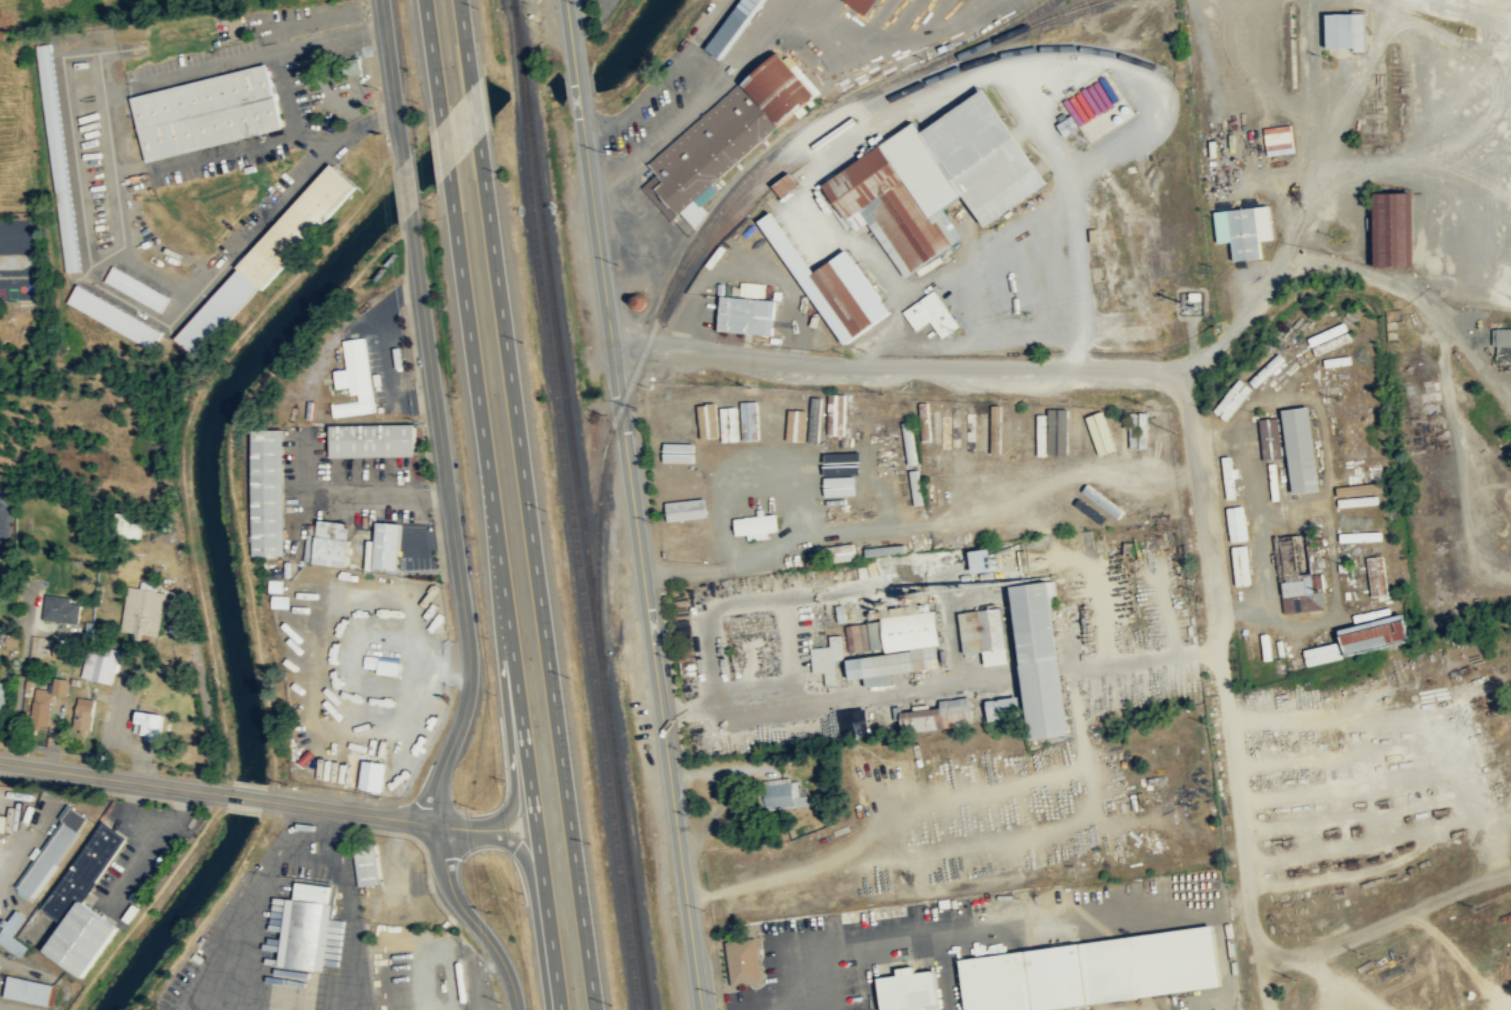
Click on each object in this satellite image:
railway: (1491, 4)
building: (861, 5)
railway: (1076, 7)
railway: (1415, 11)
building: (733, 26)
railway: (1010, 27)
building: (1345, 32)
road: (465, 42)
road: (433, 59)
road: (392, 79)
road: (699, 79)
building: (781, 86)
road: (927, 92)
parking lot: (672, 100)
building: (207, 112)
road: (474, 112)
building: (1069, 124)
railway: (825, 139)
building: (1275, 140)
road: (444, 145)
building: (712, 146)
building: (58, 157)
building: (935, 180)
building: (784, 183)
road: (406, 186)
road: (397, 203)
parking lot: (634, 222)
road: (646, 226)
railway: (705, 226)
building: (1393, 229)
building: (1243, 231)
building: (267, 260)
building: (1014, 264)
building: (136, 288)
building: (838, 301)
building: (930, 313)
parking lot: (696, 314)
building: (748, 314)
building: (115, 316)
parking lot: (789, 326)
building: (1502, 346)
road: (387, 353)
road: (892, 367)
building: (1263, 370)
building: (355, 379)
building: (1229, 400)
building: (836, 413)
building: (708, 415)
building: (754, 418)
building: (777, 418)
building: (1016, 420)
building: (730, 423)
building: (801, 425)
road: (422, 428)
building: (1059, 430)
building: (1124, 433)
building: (1098, 434)
building: (372, 439)
building: (1271, 439)
building: (1253, 443)
building: (1301, 449)
building: (680, 450)
building: (841, 460)
building: (943, 464)
building: (1230, 475)
road: (232, 481)
building: (844, 482)
building: (685, 483)
building: (916, 486)
building: (1361, 488)
building: (268, 491)
road: (347, 493)
building: (1103, 500)
building: (1358, 500)
railway: (581, 505)
road: (633, 505)
building: (1075, 506)
railway: (570, 507)
building: (685, 508)
building: (129, 525)
building: (755, 526)
building: (1362, 535)
road: (430, 538)
building: (332, 542)
building: (387, 545)
building: (886, 549)
building: (841, 551)
building: (986, 558)
road: (536, 574)
building: (1377, 582)
road: (503, 590)
building: (1306, 596)
road: (1100, 597)
road: (749, 600)
building: (61, 609)
building: (143, 610)
road: (1167, 614)
road: (465, 623)
building: (985, 633)
building: (1376, 635)
building: (856, 636)
building: (1267, 645)
building: (900, 646)
building: (1250, 647)
building: (62, 649)
road: (790, 649)
building: (1323, 653)
building: (828, 658)
road: (1130, 658)
building: (1039, 660)
building: (100, 664)
building: (389, 665)
road: (1222, 666)
road: (838, 698)
building: (1, 704)
building: (44, 705)
building: (1004, 708)
building: (938, 715)
building: (83, 716)
building: (150, 722)
building: (850, 722)
building: (373, 774)
road: (114, 778)
building: (781, 795)
road: (246, 796)
road: (319, 817)
road: (416, 820)
building: (3, 823)
building: (50, 853)
building: (367, 863)
building: (1171, 889)
building: (82, 902)
building: (405, 906)
road: (254, 908)
road: (352, 914)
road: (1394, 919)
building: (307, 926)
building: (13, 932)
road: (435, 950)
quarry: (1399, 958)
building: (745, 960)
building: (1095, 971)
road: (1259, 971)
building: (913, 989)
building: (28, 990)

